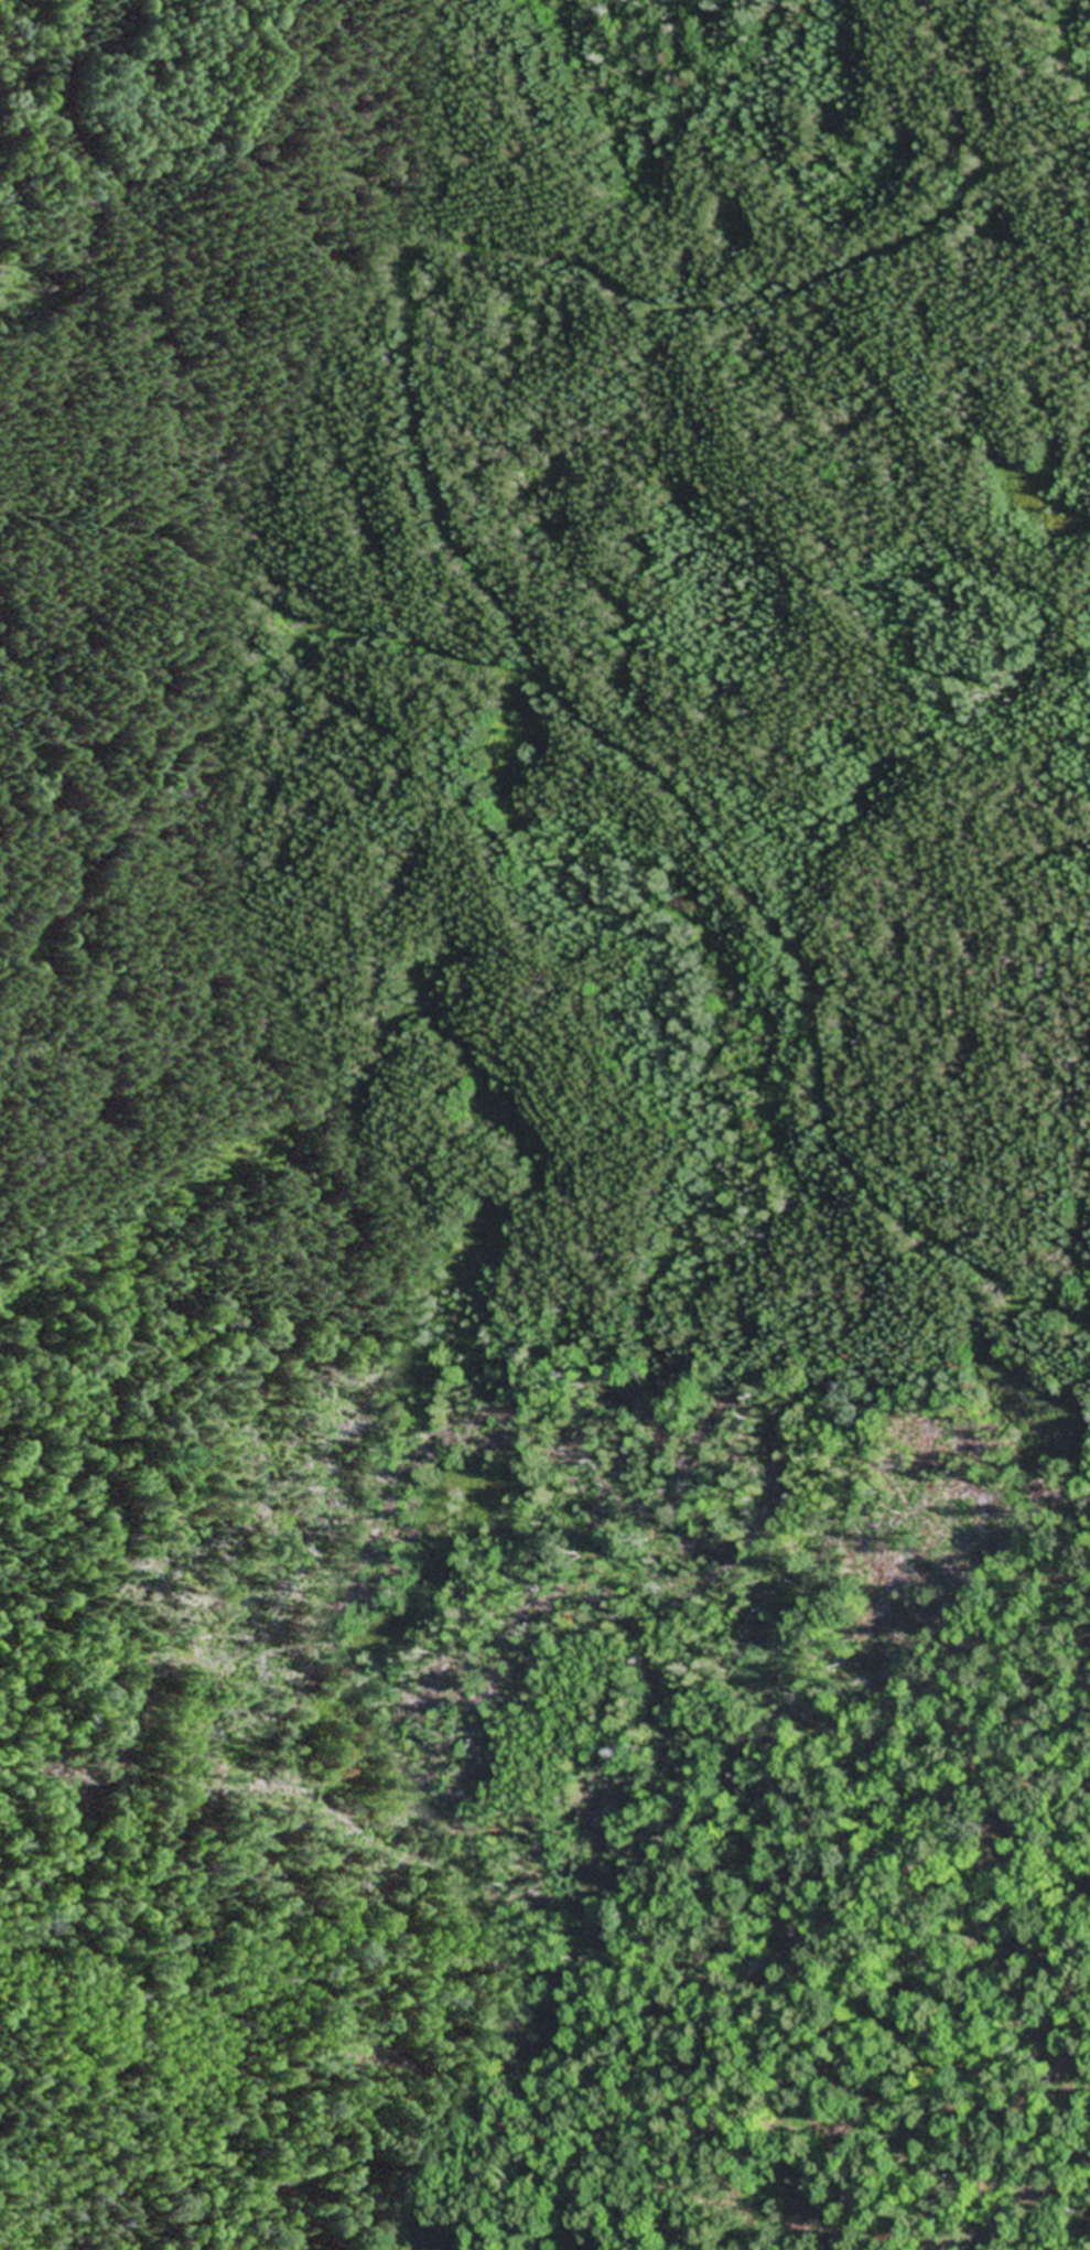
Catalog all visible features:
building: (447, 2246)

